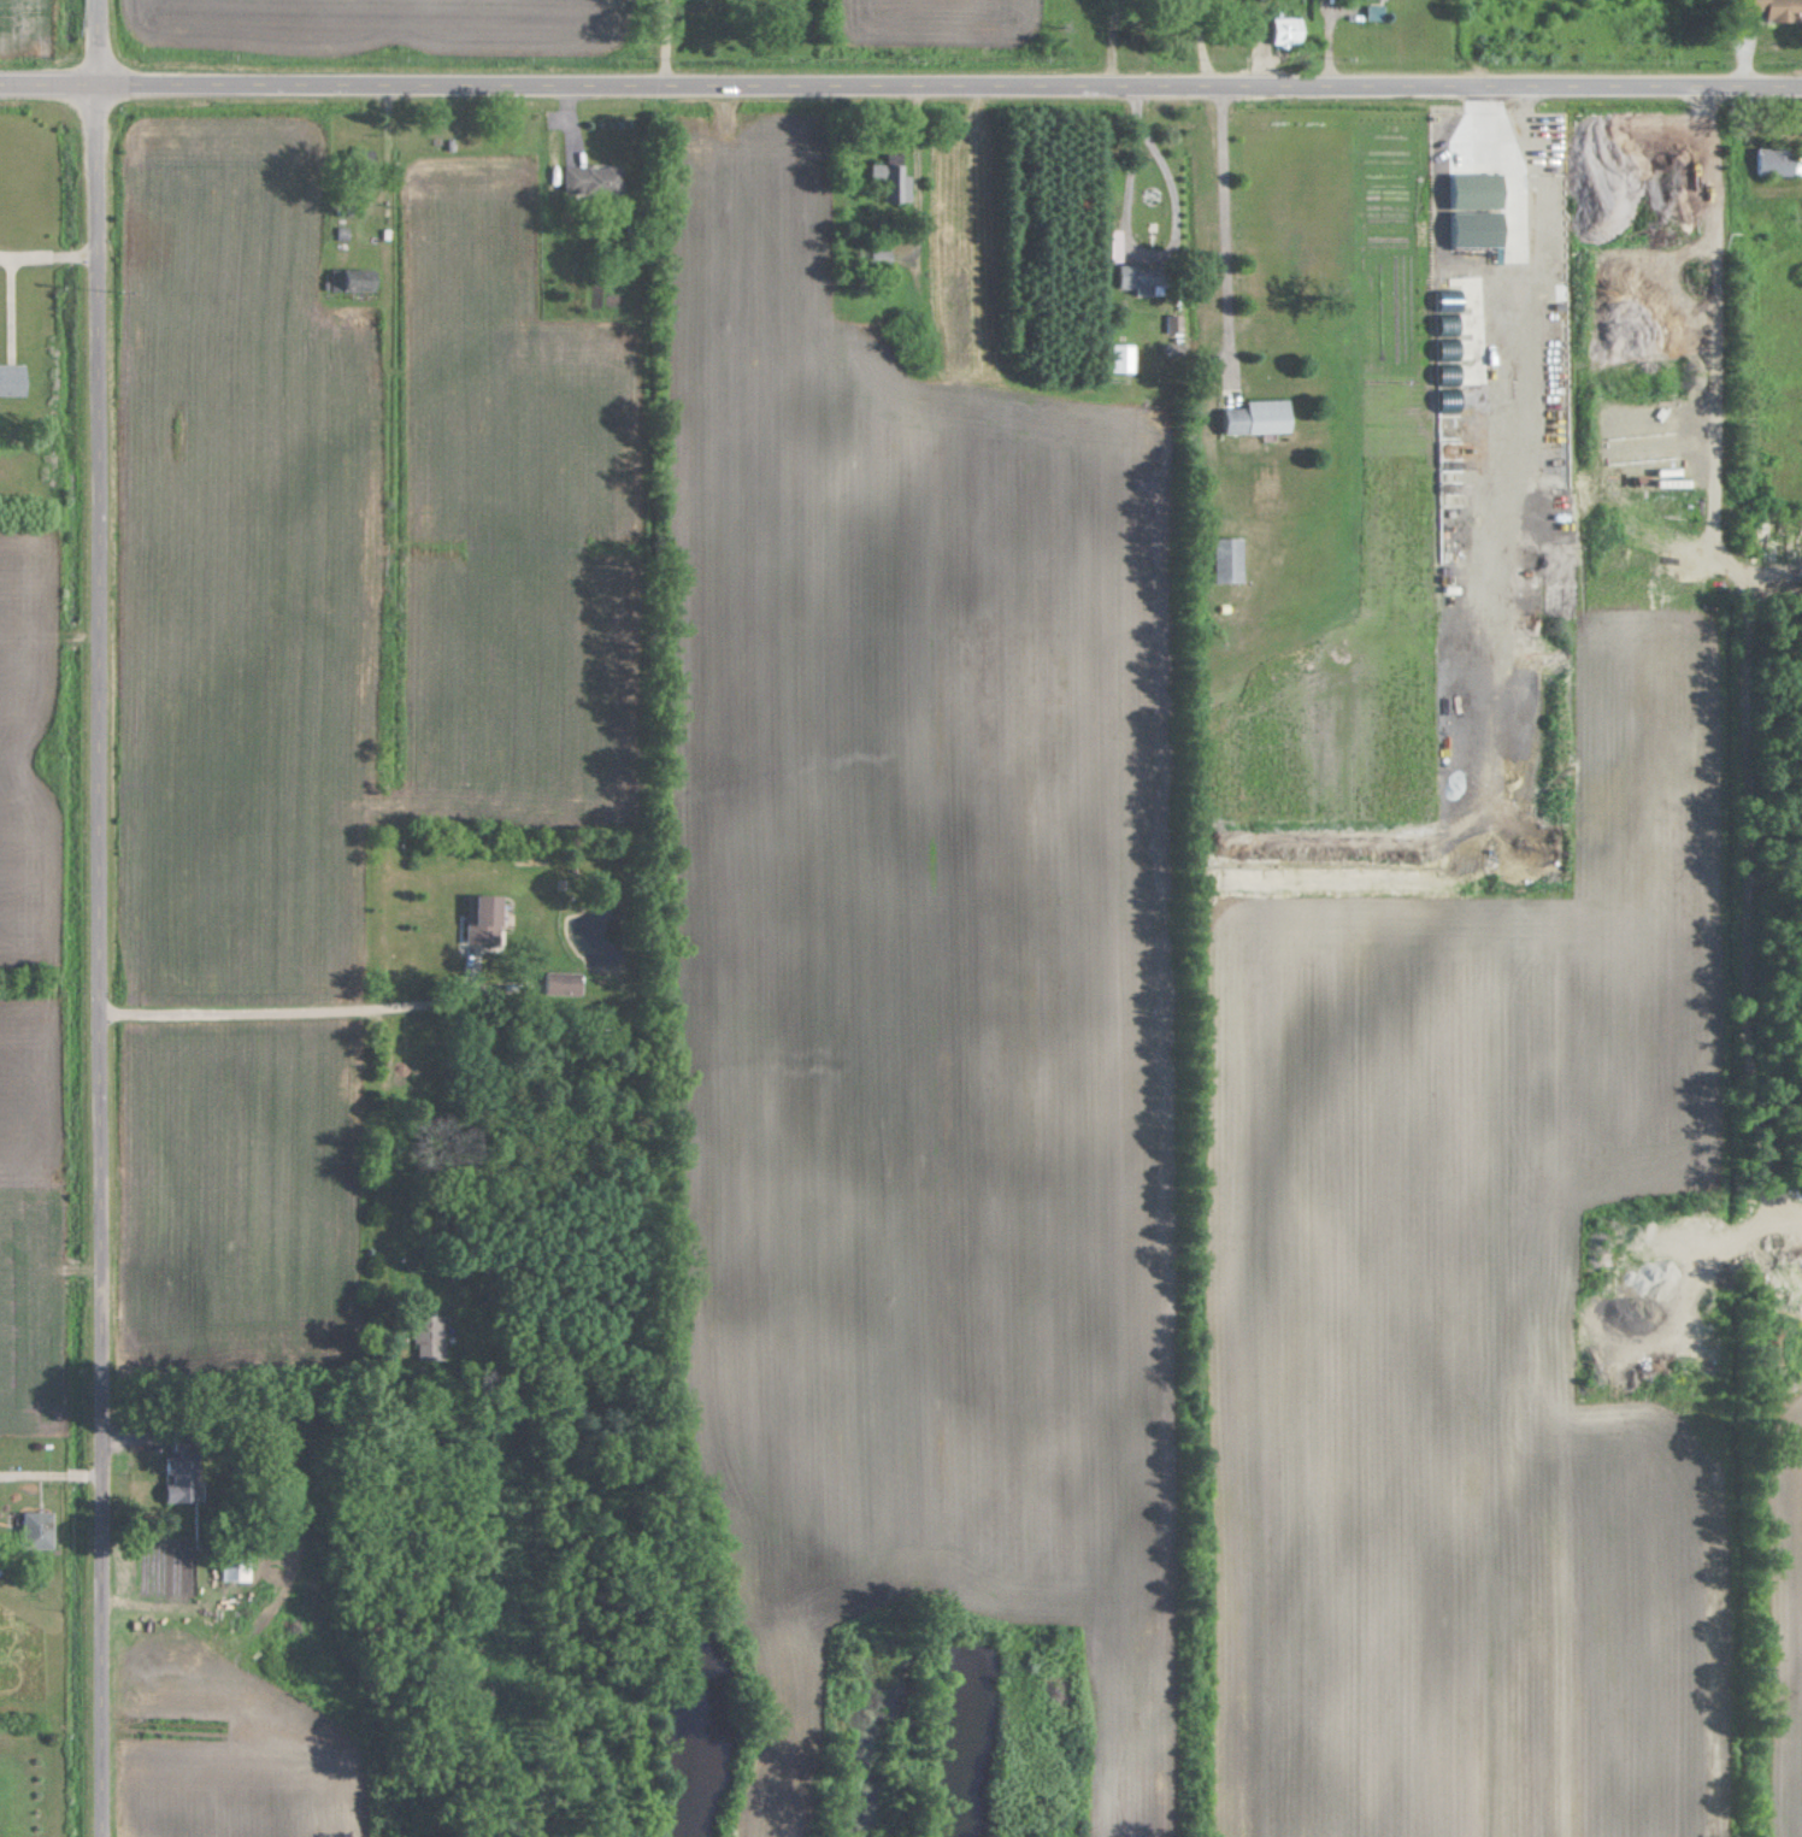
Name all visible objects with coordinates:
building: (1777, 8)
building: (1133, 23)
building: (1286, 31)
road: (900, 87)
building: (1773, 161)
building: (594, 179)
building: (897, 182)
building: (1478, 189)
building: (1797, 216)
road: (1226, 232)
road: (1168, 242)
building: (882, 254)
road: (47, 255)
building: (1141, 277)
building: (355, 279)
building: (1121, 357)
building: (13, 382)
building: (1256, 417)
building: (1756, 537)
building: (1227, 558)
building: (483, 917)
road: (98, 918)
building: (560, 982)
road: (288, 1009)
building: (429, 1335)
building: (182, 1470)
building: (42, 1529)
building: (232, 1567)

